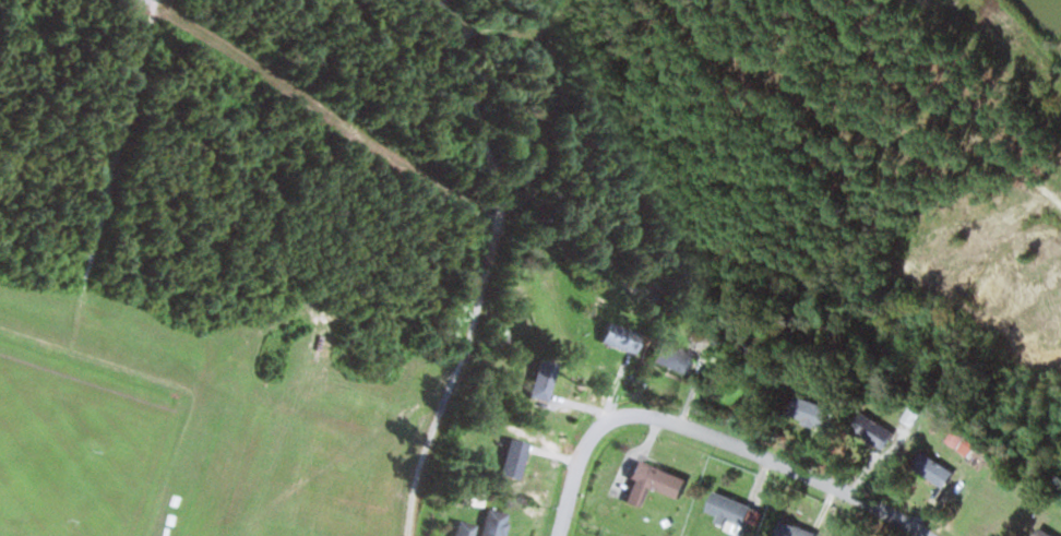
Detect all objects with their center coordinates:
road: (151, 1)
road: (122, 139)
park: (248, 261)
road: (488, 266)
building: (624, 340)
building: (678, 358)
building: (546, 380)
building: (813, 412)
building: (875, 430)
road: (711, 438)
building: (517, 457)
park: (71, 464)
building: (937, 468)
building: (656, 483)
building: (736, 513)
building: (497, 523)
building: (796, 529)
building: (1048, 532)

